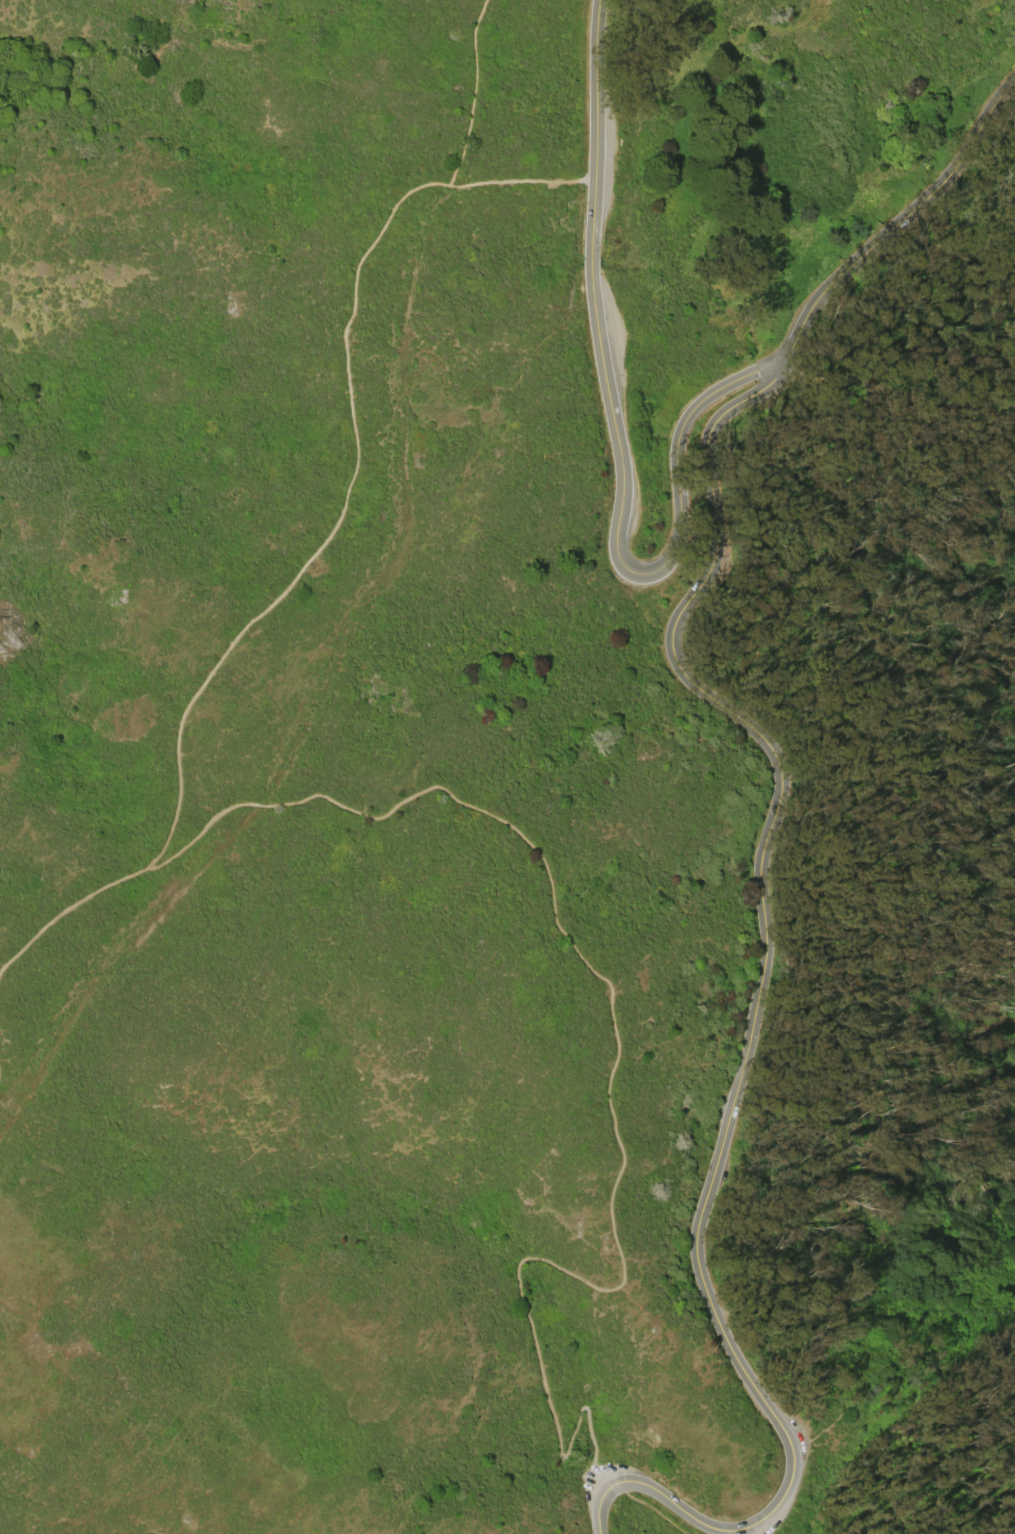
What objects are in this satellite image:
road: (476, 92)
road: (523, 182)
road: (898, 223)
road: (617, 441)
road: (333, 524)
road: (815, 901)
road: (68, 902)
road: (763, 921)
road: (609, 1074)
road: (609, 1486)
road: (676, 1506)
road: (649, 1508)
road: (597, 1512)
road: (743, 1527)
road: (750, 1529)

